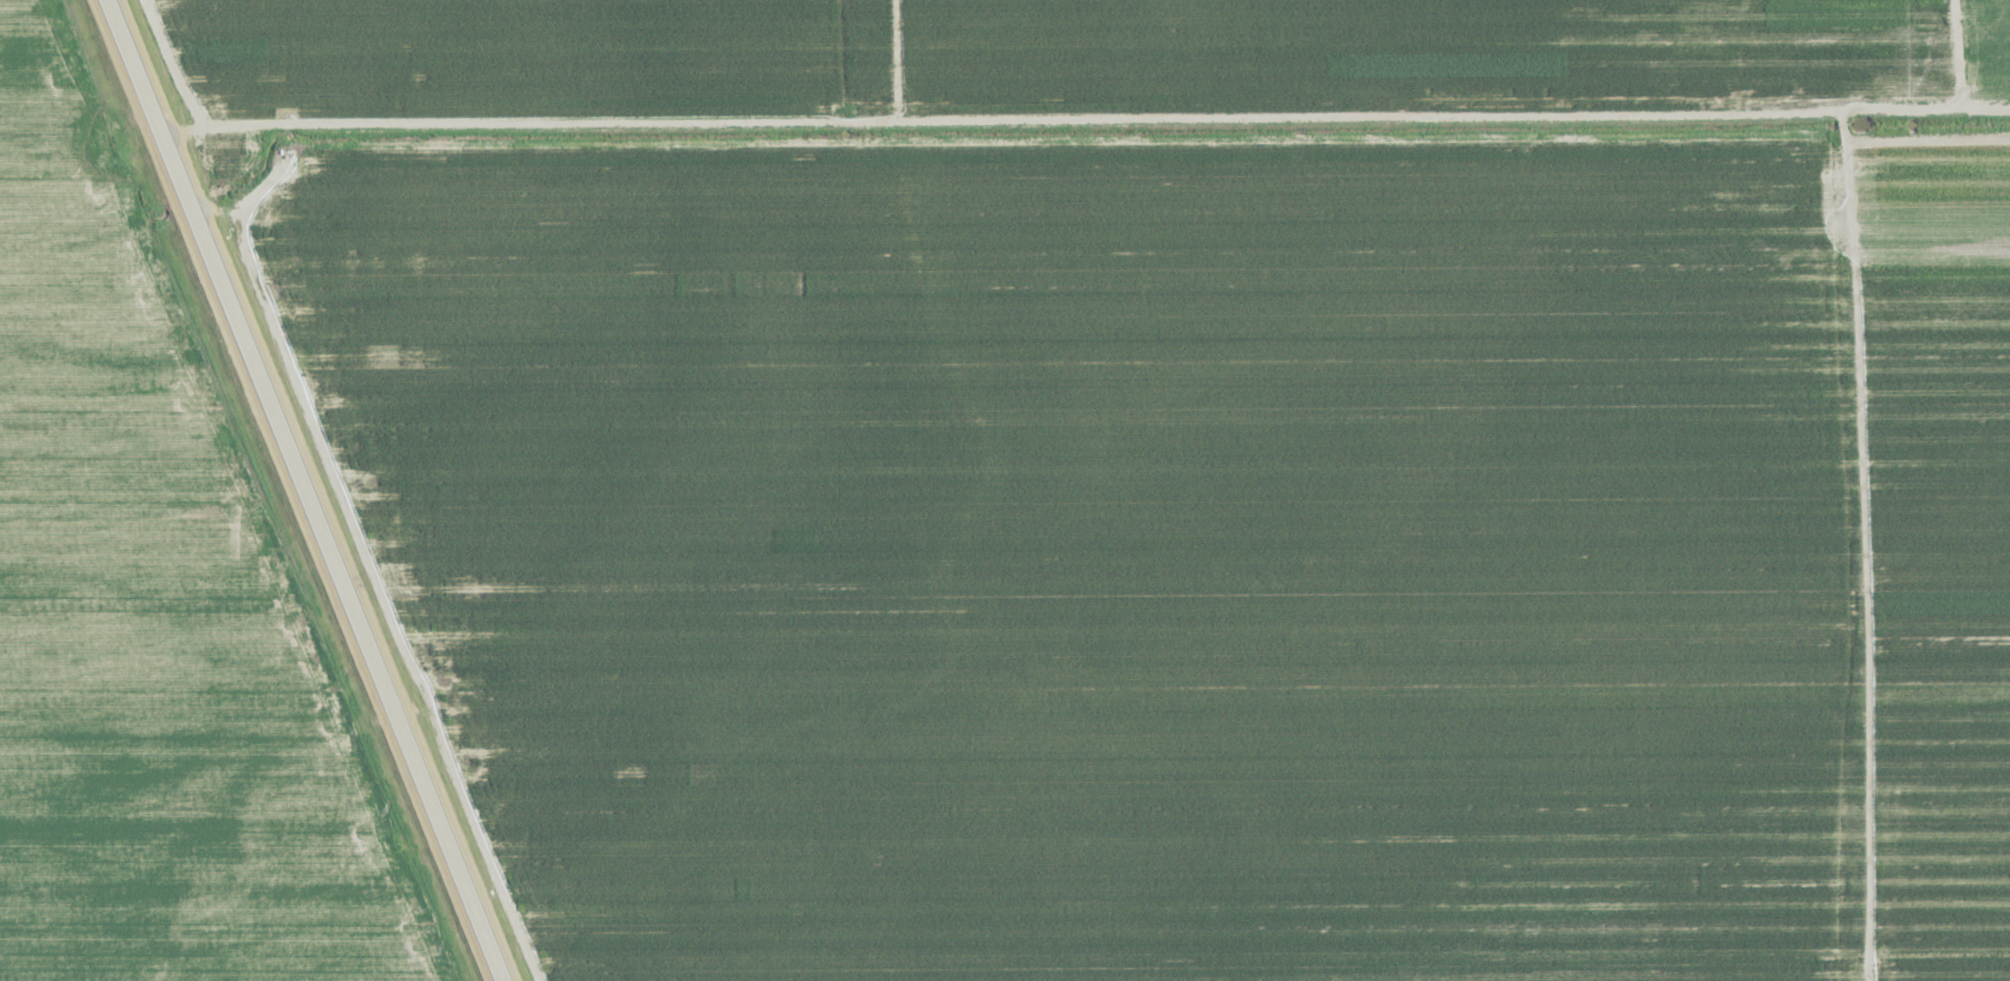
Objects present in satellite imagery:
road: (304, 489)

